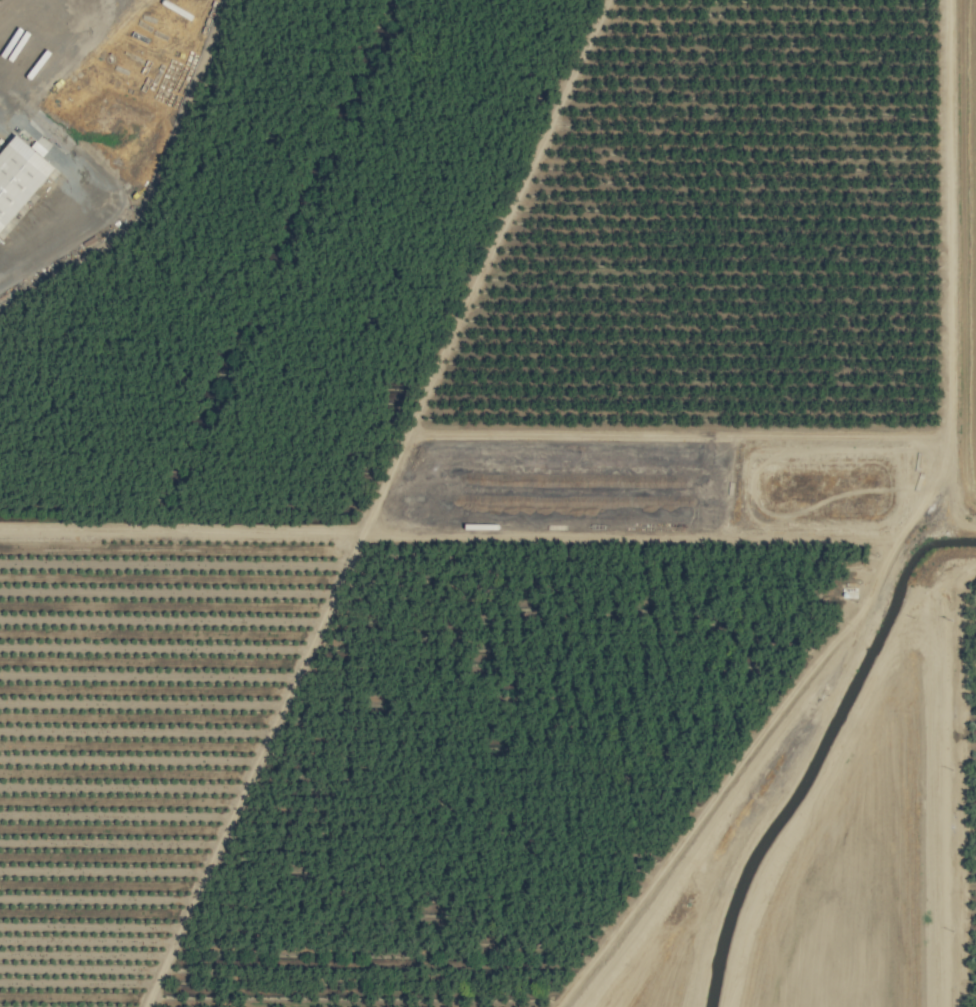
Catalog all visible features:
building: (19, 176)
crop: (488, 503)

